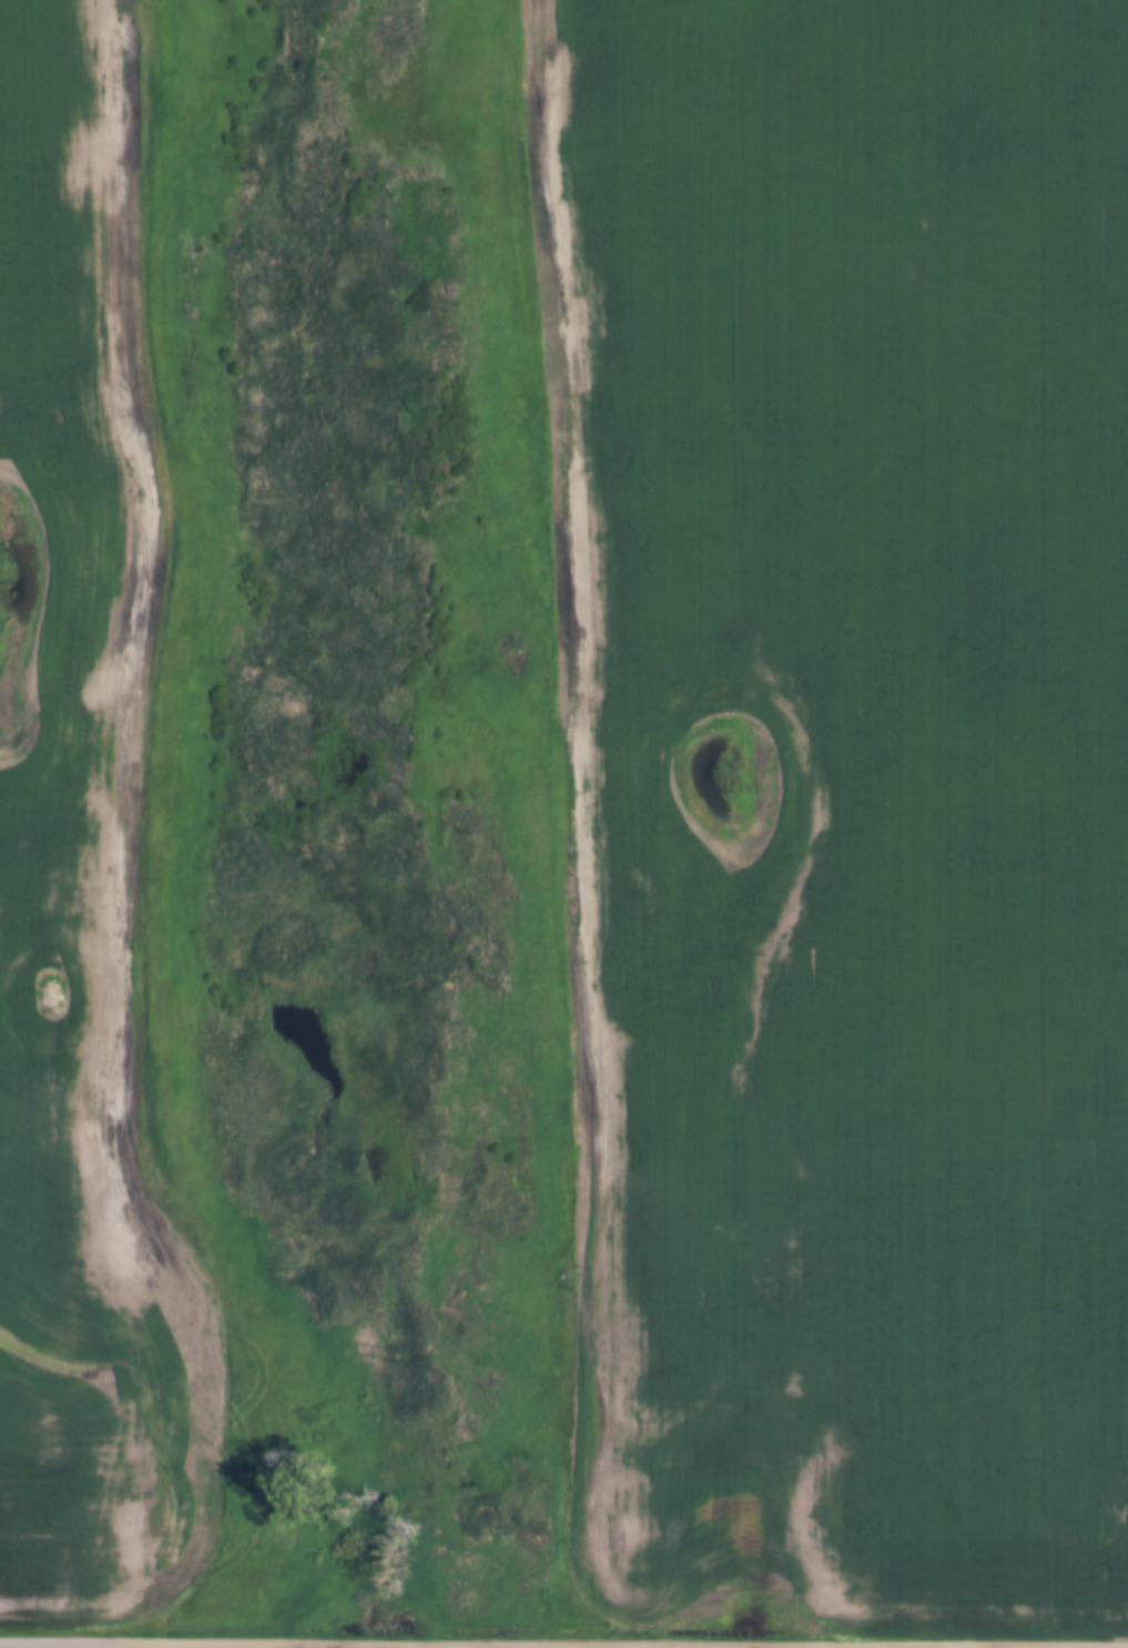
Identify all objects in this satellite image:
road: (563, 1644)

